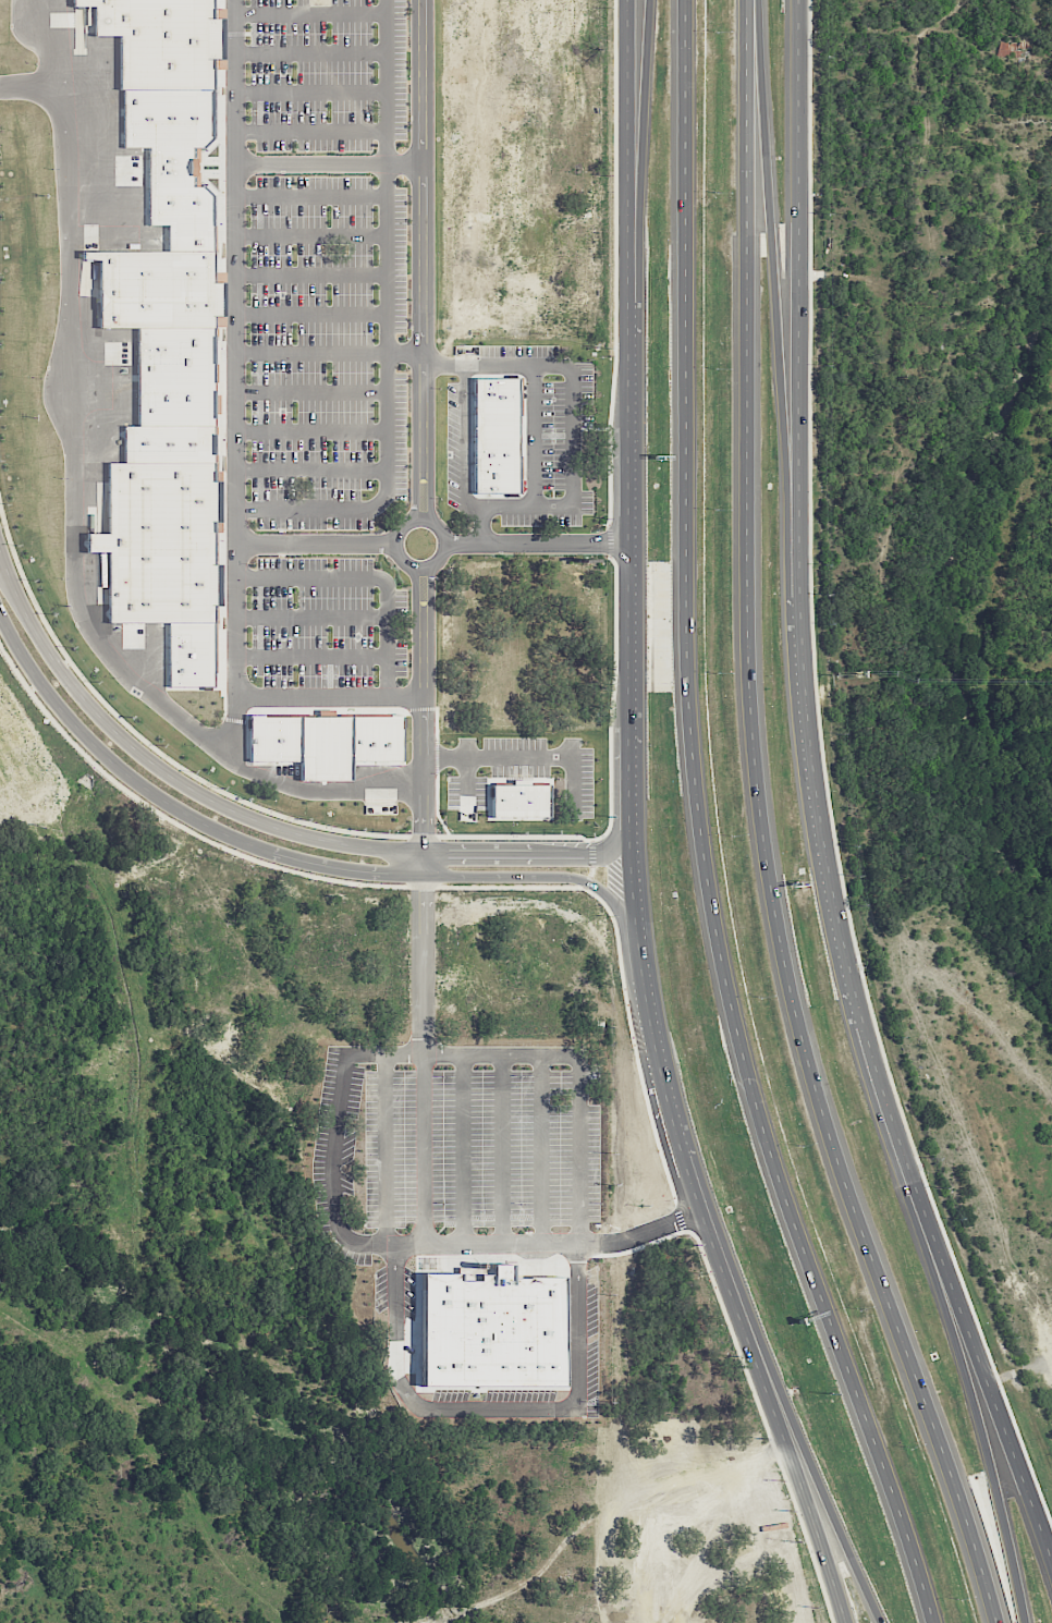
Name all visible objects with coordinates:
road: (313, 11)
building: (159, 39)
building: (1011, 49)
road: (313, 51)
road: (628, 73)
road: (633, 73)
road: (30, 86)
road: (313, 89)
building: (167, 115)
road: (313, 125)
road: (328, 163)
building: (172, 166)
road: (782, 166)
road: (794, 166)
road: (313, 196)
building: (183, 215)
road: (313, 232)
road: (423, 259)
road: (615, 261)
road: (314, 273)
building: (156, 285)
road: (314, 313)
road: (392, 330)
road: (328, 354)
building: (175, 374)
road: (235, 382)
road: (314, 391)
road: (314, 431)
building: (496, 432)
building: (169, 442)
road: (314, 469)
road: (537, 484)
road: (73, 511)
road: (423, 520)
building: (160, 539)
road: (609, 540)
road: (318, 542)
road: (537, 542)
road: (369, 575)
road: (311, 623)
building: (191, 651)
road: (311, 664)
road: (286, 696)
road: (611, 701)
road: (424, 720)
building: (327, 740)
road: (527, 758)
road: (615, 771)
road: (467, 786)
road: (223, 791)
building: (521, 798)
road: (174, 807)
road: (234, 810)
road: (699, 828)
road: (763, 829)
road: (591, 864)
road: (505, 876)
road: (340, 880)
road: (633, 901)
road: (623, 944)
road: (844, 969)
road: (586, 1070)
road: (335, 1203)
building: (506, 1326)
road: (1002, 1482)
road: (824, 1517)

